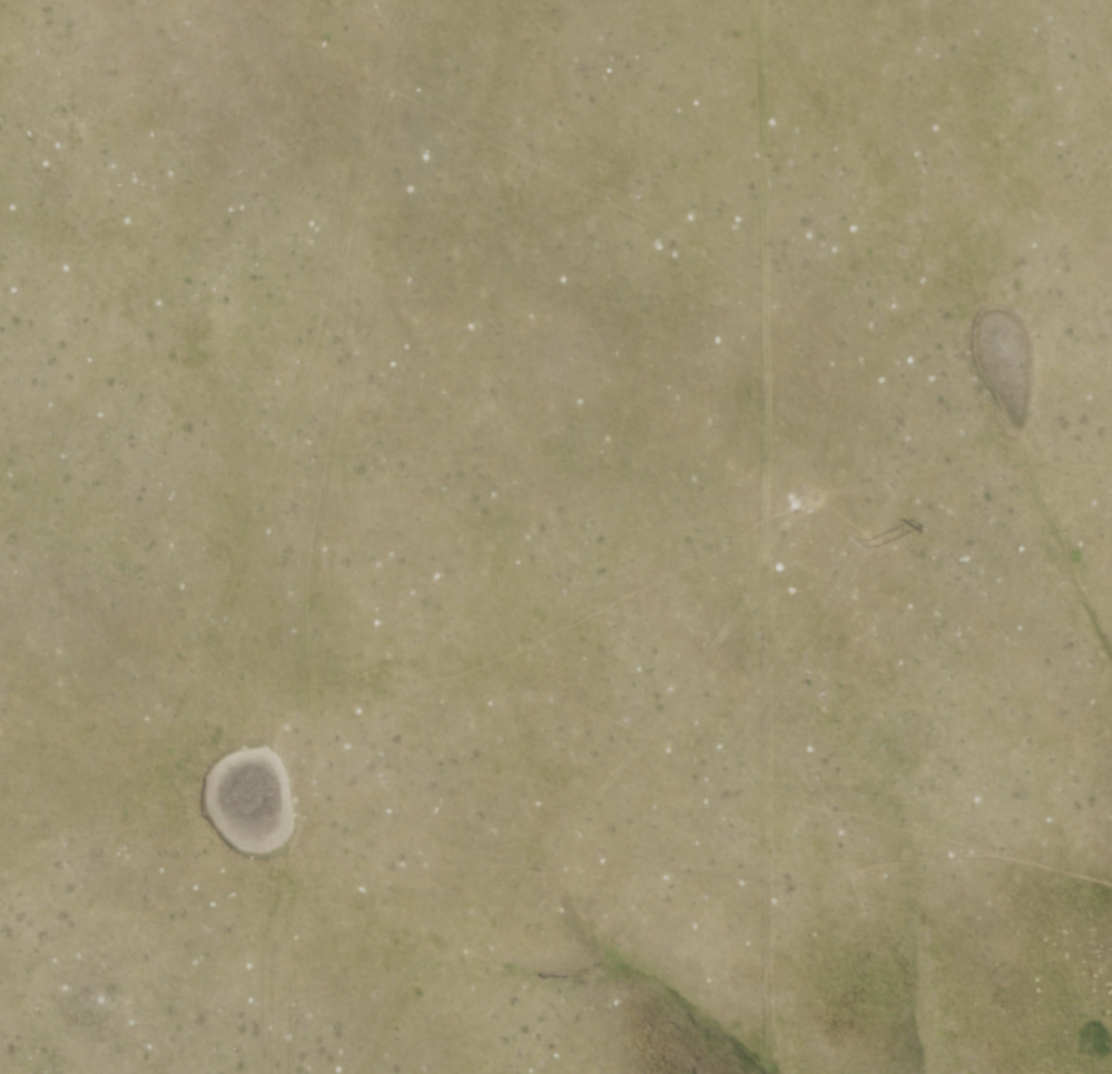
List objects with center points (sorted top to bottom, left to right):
power tower: (875, 542)

